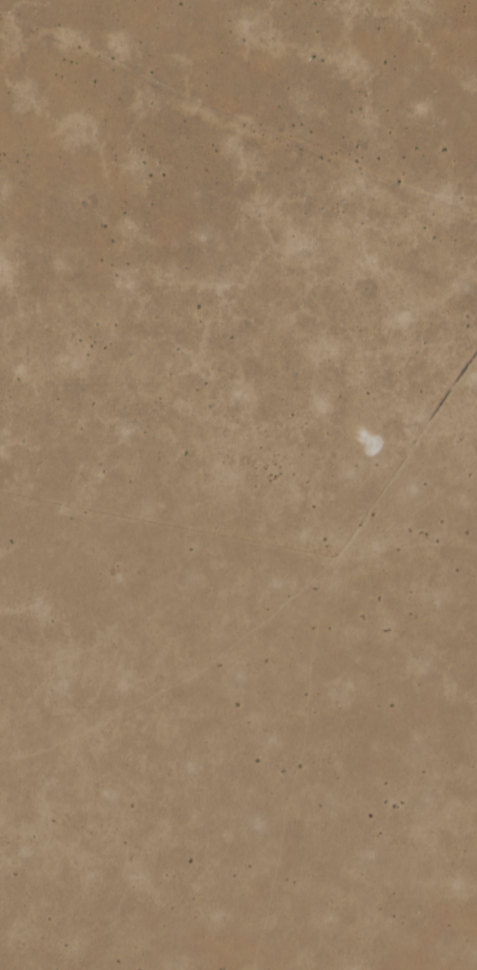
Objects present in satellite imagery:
road: (235, 117)

